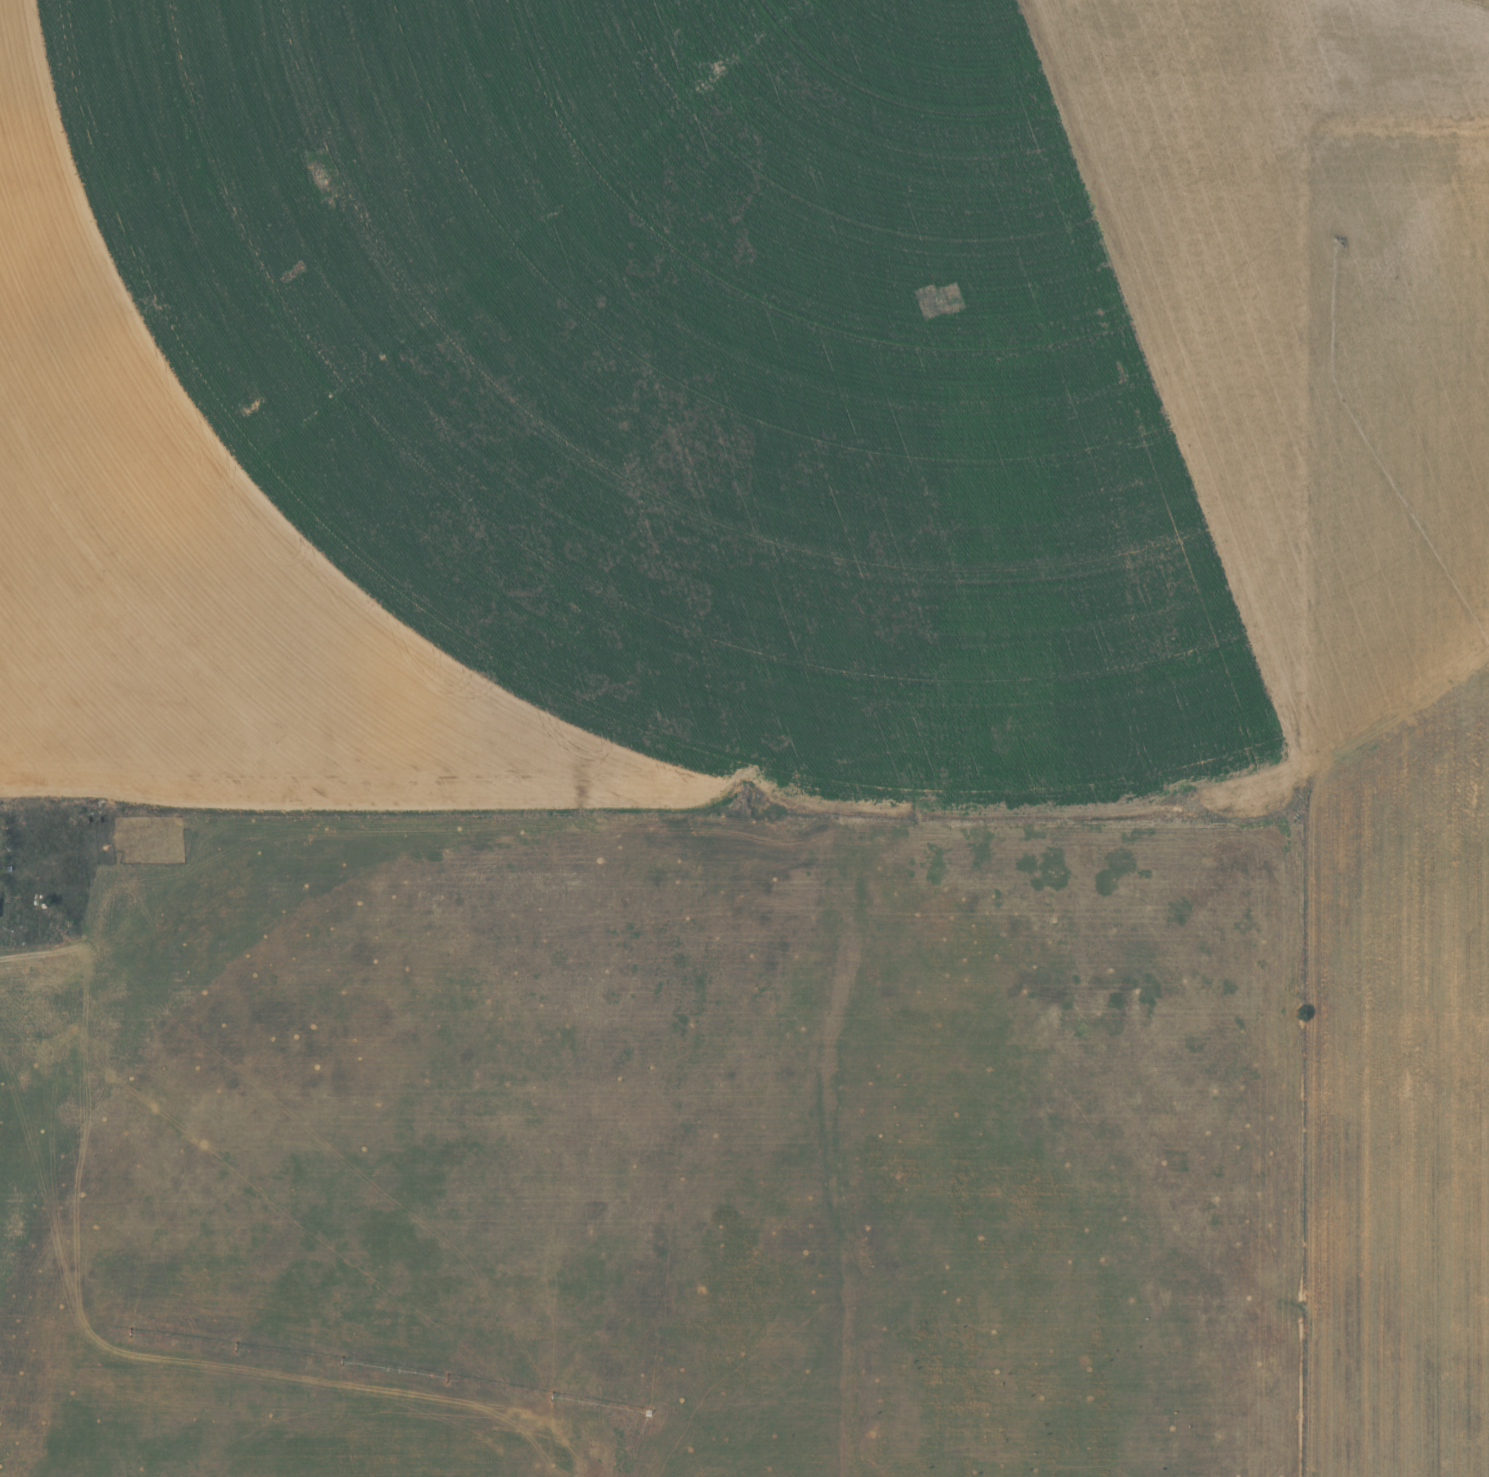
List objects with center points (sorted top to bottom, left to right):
road: (965, 838)

